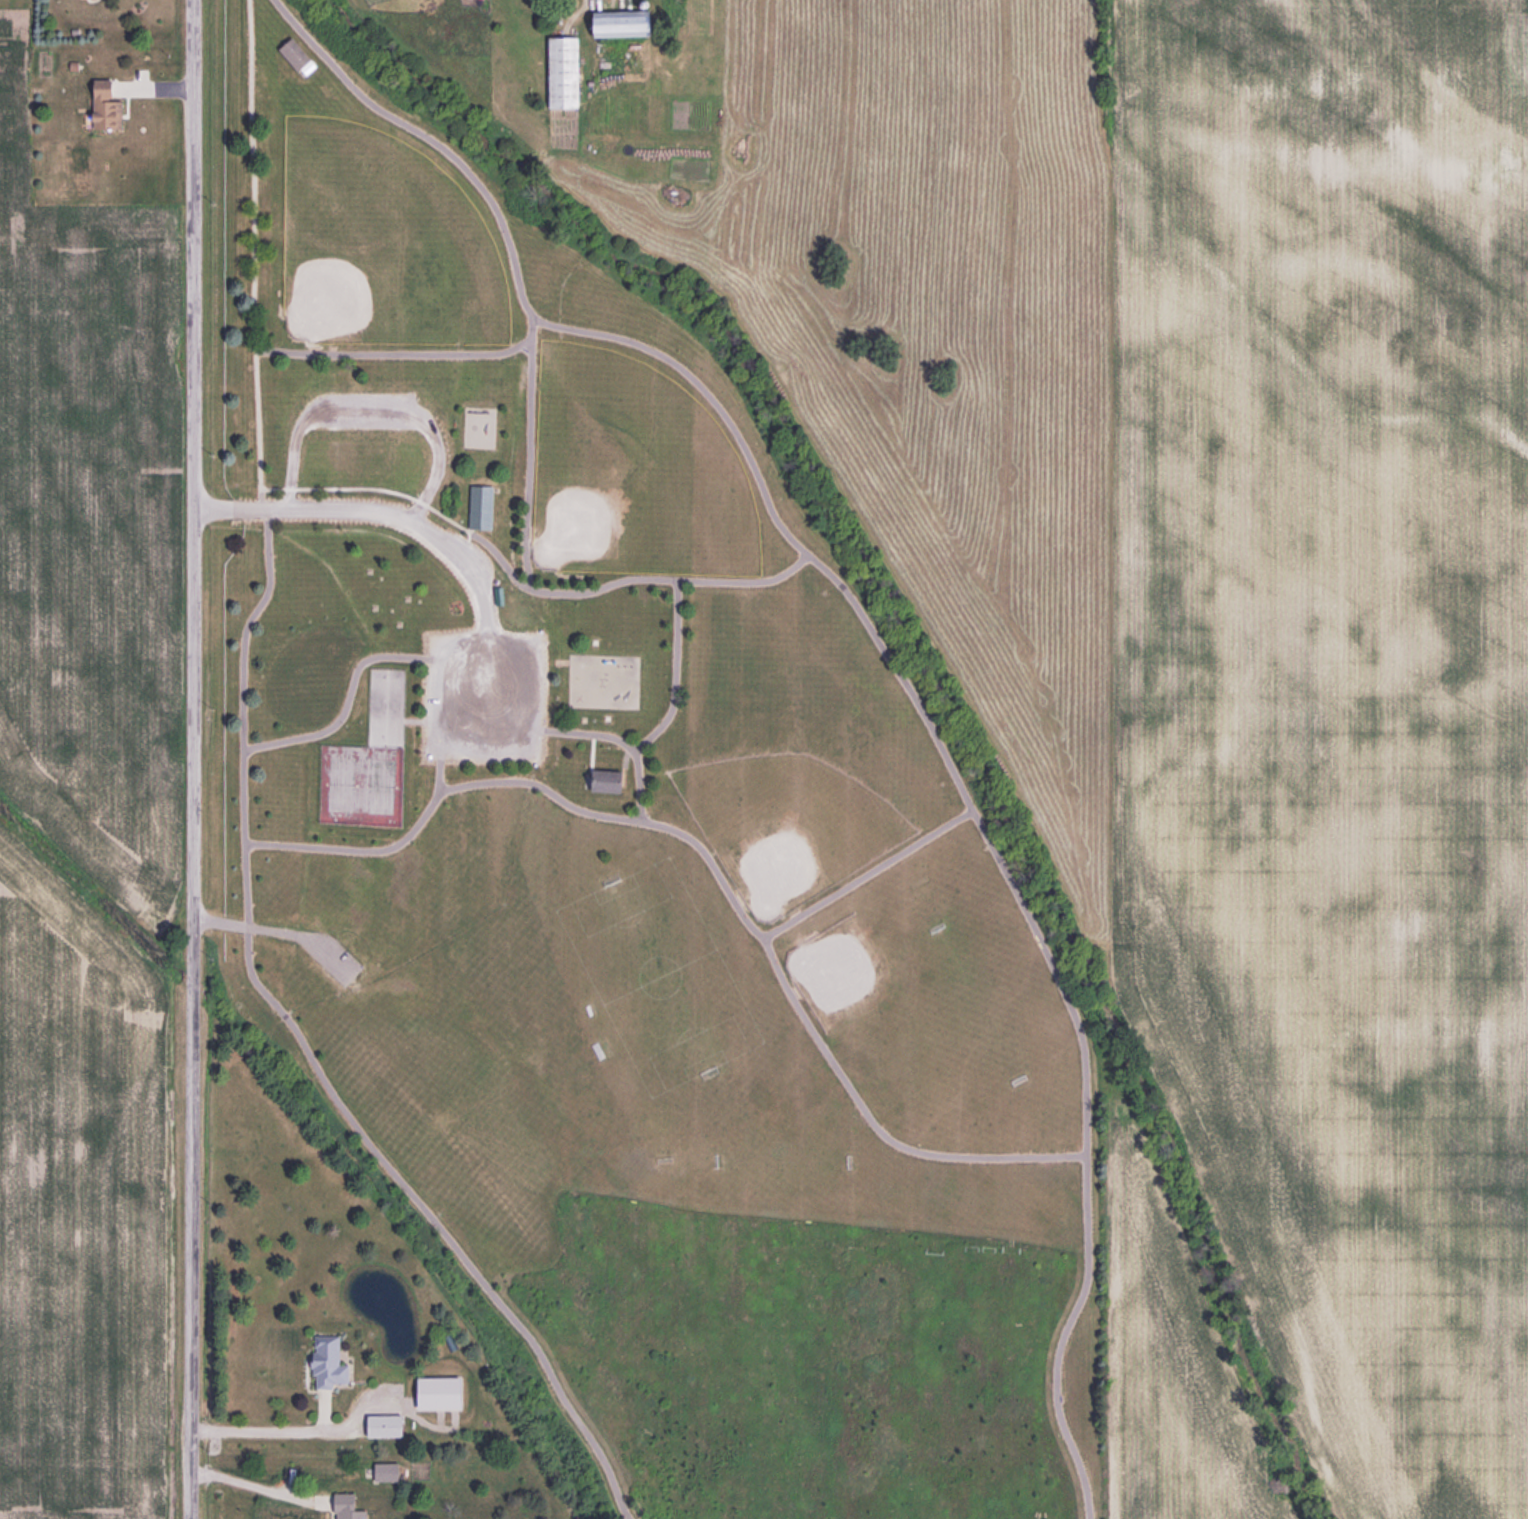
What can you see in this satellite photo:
building: (624, 24)
building: (295, 55)
building: (564, 73)
building: (107, 108)
building: (481, 508)
road: (364, 509)
road: (191, 759)
building: (608, 782)
park: (655, 881)
building: (328, 1364)
building: (385, 1427)
road: (297, 1430)
building: (387, 1473)
road: (254, 1487)

